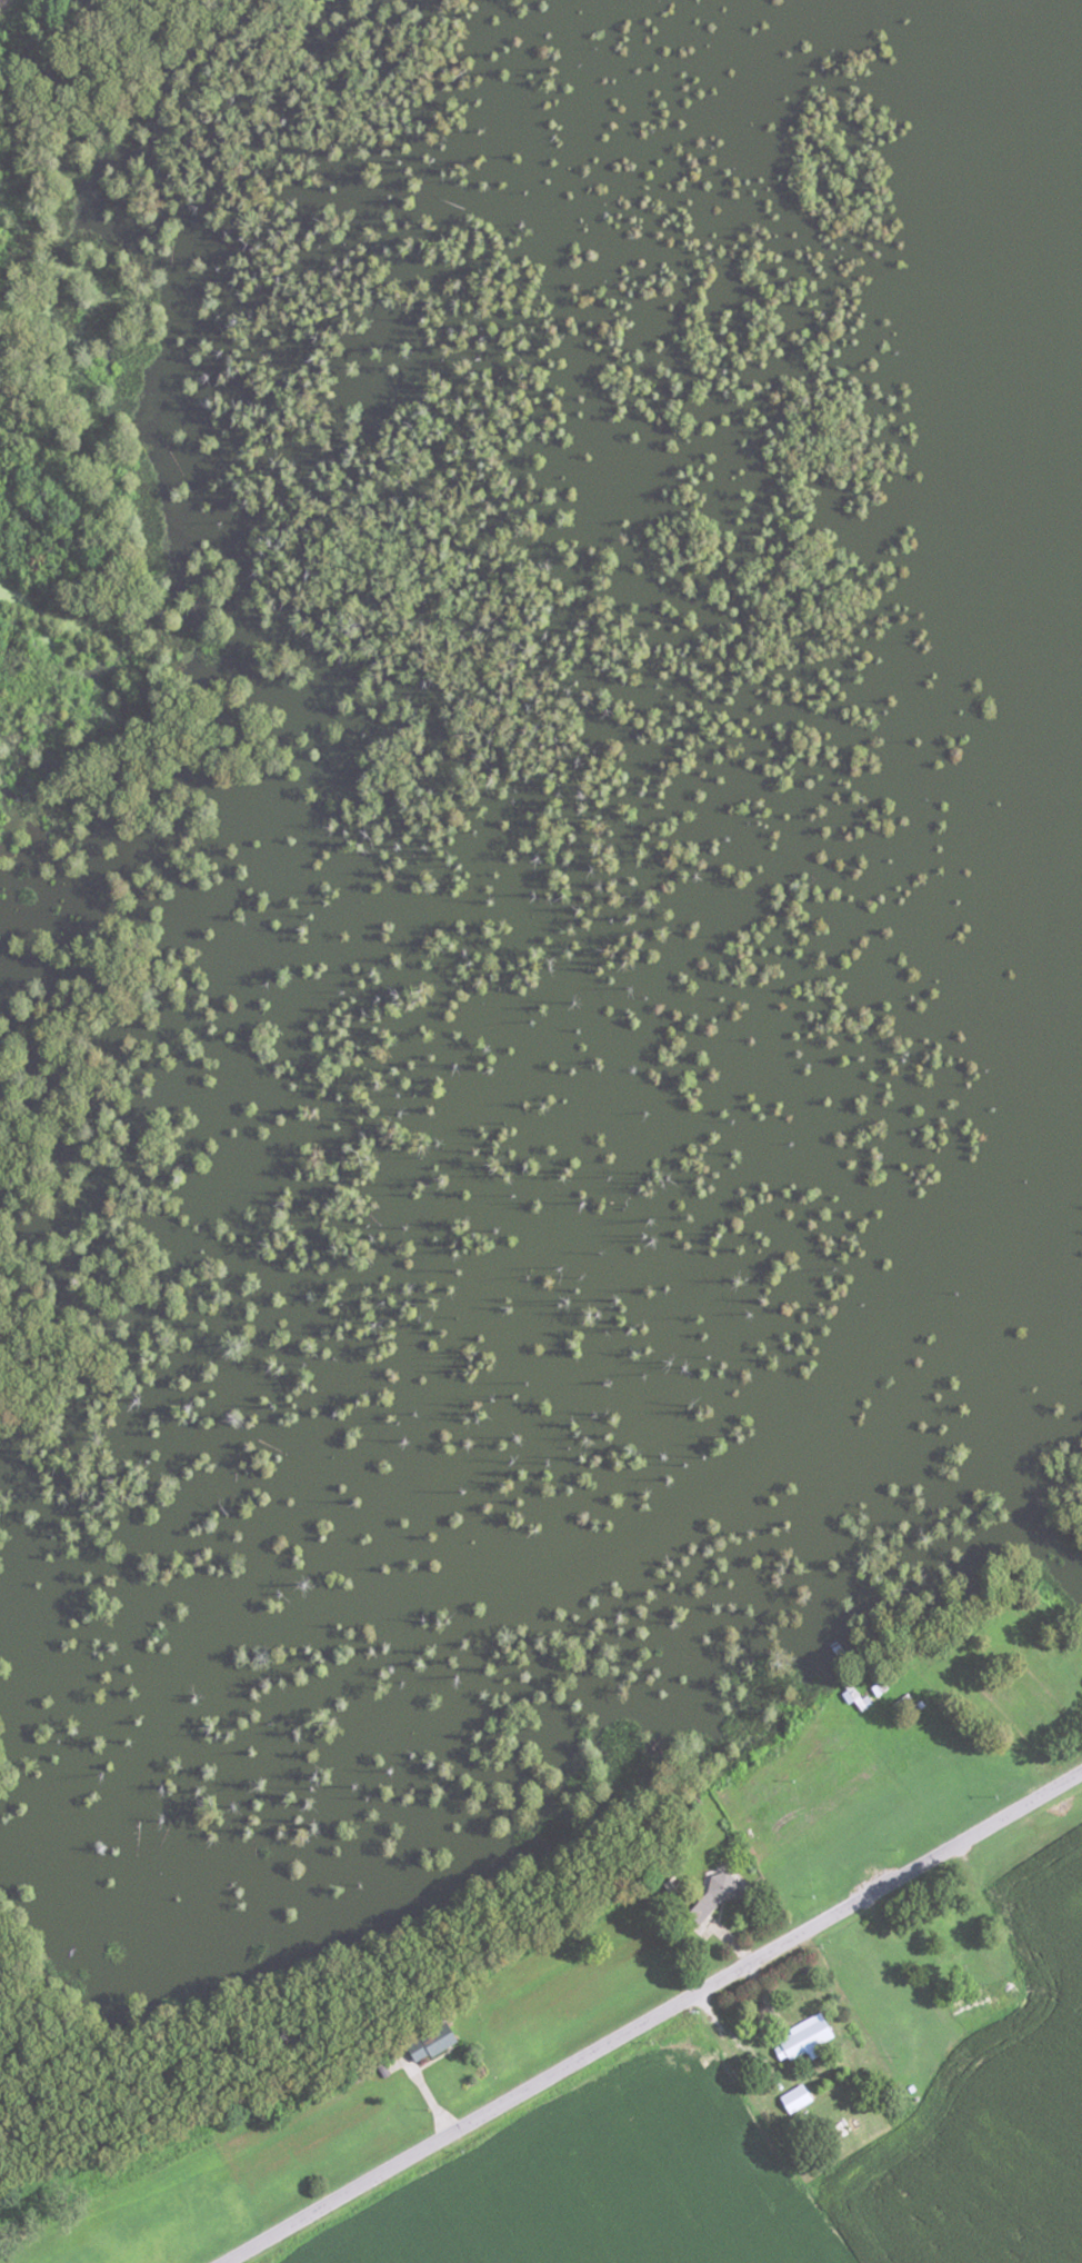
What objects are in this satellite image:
building: (717, 1894)
road: (654, 2017)

